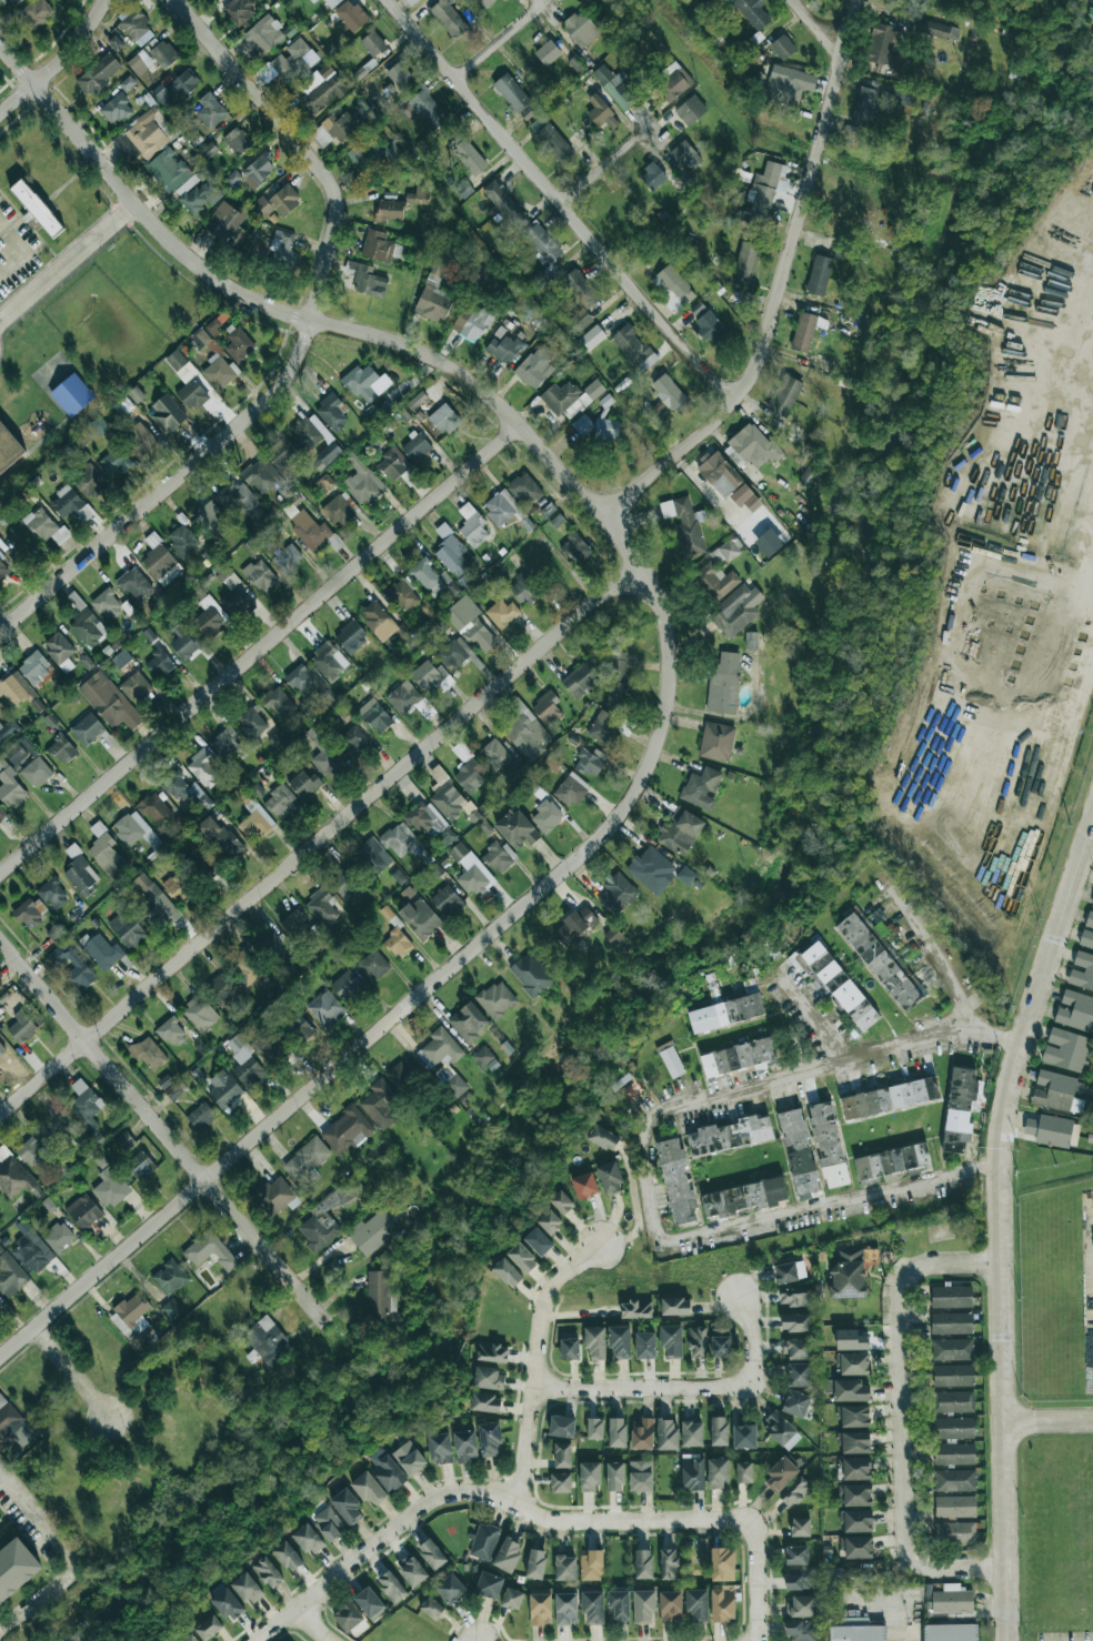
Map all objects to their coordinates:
building: (582, 0)
building: (312, 1)
building: (411, 1)
building: (13, 2)
building: (331, 2)
building: (485, 2)
building: (239, 10)
building: (37, 13)
building: (752, 13)
building: (350, 16)
building: (448, 18)
building: (134, 24)
road: (814, 24)
building: (580, 29)
building: (939, 30)
building: (263, 34)
road: (502, 40)
building: (114, 42)
building: (882, 42)
building: (372, 43)
building: (782, 47)
building: (546, 51)
building: (152, 58)
road: (57, 61)
building: (291, 61)
building: (574, 64)
building: (98, 74)
building: (399, 74)
building: (673, 82)
building: (127, 83)
building: (183, 83)
building: (788, 84)
building: (616, 85)
building: (370, 87)
building: (321, 88)
building: (163, 97)
building: (514, 97)
building: (425, 107)
building: (863, 107)
building: (114, 109)
building: (209, 110)
building: (362, 110)
building: (690, 110)
building: (601, 113)
building: (334, 129)
building: (851, 132)
building: (141, 137)
building: (550, 139)
building: (237, 141)
building: (209, 150)
building: (684, 155)
building: (472, 160)
road: (611, 162)
building: (167, 170)
building: (258, 170)
building: (652, 177)
building: (232, 178)
building: (463, 189)
building: (198, 193)
building: (763, 193)
building: (418, 195)
road: (559, 201)
building: (277, 202)
building: (503, 202)
building: (37, 208)
building: (389, 210)
building: (227, 223)
building: (254, 240)
building: (540, 243)
building: (377, 246)
building: (282, 249)
road: (21, 252)
road: (68, 260)
building: (745, 262)
building: (553, 271)
building: (487, 273)
building: (819, 275)
building: (369, 282)
building: (671, 288)
building: (580, 289)
road: (779, 290)
building: (433, 295)
road: (1079, 298)
building: (217, 322)
building: (472, 322)
building: (706, 322)
road: (367, 332)
building: (803, 332)
building: (590, 339)
building: (238, 344)
building: (503, 346)
building: (633, 348)
road: (299, 349)
building: (176, 361)
building: (534, 368)
building: (219, 373)
building: (367, 383)
building: (670, 393)
building: (192, 394)
building: (71, 395)
building: (136, 395)
building: (784, 395)
building: (570, 396)
building: (415, 401)
building: (122, 405)
building: (331, 412)
building: (166, 413)
building: (403, 414)
road: (1036, 417)
building: (443, 420)
building: (582, 424)
building: (98, 426)
building: (606, 430)
building: (310, 432)
building: (139, 440)
building: (9, 445)
building: (415, 447)
building: (751, 449)
building: (280, 454)
building: (325, 455)
building: (116, 462)
building: (390, 466)
building: (260, 475)
building: (810, 475)
building: (726, 481)
building: (90, 482)
building: (362, 482)
building: (324, 483)
building: (524, 489)
building: (240, 501)
building: (69, 504)
building: (500, 507)
building: (338, 511)
building: (209, 520)
building: (556, 521)
building: (471, 525)
building: (684, 525)
building: (46, 526)
building: (312, 531)
building: (181, 542)
building: (249, 547)
building: (575, 548)
building: (729, 550)
building: (450, 552)
building: (287, 558)
building: (160, 561)
building: (2, 571)
building: (260, 575)
building: (427, 577)
building: (715, 580)
building: (134, 584)
building: (524, 590)
building: (402, 594)
building: (235, 598)
building: (107, 604)
building: (428, 610)
building: (735, 611)
building: (501, 613)
building: (374, 616)
building: (210, 618)
building: (470, 624)
building: (87, 625)
building: (148, 634)
building: (350, 636)
building: (750, 641)
building: (184, 643)
road: (259, 648)
building: (59, 651)
building: (454, 653)
building: (121, 658)
building: (328, 661)
building: (161, 664)
building: (34, 668)
building: (431, 677)
building: (581, 677)
building: (615, 678)
road: (1043, 679)
building: (723, 684)
building: (134, 687)
building: (16, 688)
building: (409, 699)
building: (109, 702)
building: (277, 702)
building: (546, 708)
building: (0, 715)
building: (303, 716)
building: (374, 716)
building: (50, 721)
building: (251, 723)
building: (603, 727)
building: (87, 729)
building: (8, 731)
building: (525, 732)
building: (277, 739)
building: (352, 741)
building: (715, 742)
building: (225, 743)
building: (61, 749)
building: (20, 751)
building: (324, 754)
building: (494, 754)
building: (590, 762)
building: (551, 763)
building: (204, 768)
building: (467, 768)
building: (37, 772)
building: (303, 784)
building: (10, 787)
building: (179, 787)
building: (701, 788)
building: (571, 789)
building: (445, 796)
building: (280, 803)
building: (154, 809)
building: (2, 815)
building: (545, 816)
building: (254, 822)
building: (429, 823)
building: (134, 829)
building: (517, 829)
building: (679, 832)
building: (220, 838)
road: (317, 839)
building: (399, 839)
building: (104, 852)
building: (373, 857)
building: (498, 857)
building: (169, 860)
building: (202, 864)
building: (651, 869)
building: (471, 870)
building: (80, 873)
building: (685, 876)
building: (345, 883)
building: (177, 884)
building: (615, 893)
building: (52, 894)
building: (150, 902)
building: (447, 902)
building: (1092, 904)
building: (321, 906)
building: (29, 913)
building: (420, 918)
building: (294, 925)
building: (574, 926)
building: (126, 928)
building: (1087, 932)
building: (612, 936)
building: (398, 944)
building: (279, 947)
building: (102, 952)
building: (77, 962)
road: (940, 962)
building: (244, 963)
building: (880, 963)
building: (373, 966)
building: (1082, 971)
building: (0, 975)
building: (531, 975)
building: (345, 985)
building: (836, 985)
building: (0, 986)
building: (221, 990)
building: (495, 999)
building: (325, 1008)
building: (1075, 1011)
building: (725, 1013)
building: (200, 1014)
road: (814, 1017)
building: (468, 1021)
building: (21, 1027)
building: (298, 1028)
building: (171, 1033)
road: (367, 1039)
building: (200, 1048)
building: (1065, 1049)
building: (271, 1050)
building: (148, 1054)
building: (2, 1055)
building: (482, 1056)
building: (738, 1057)
building: (670, 1059)
building: (244, 1063)
building: (445, 1063)
building: (403, 1073)
building: (164, 1081)
building: (625, 1088)
building: (223, 1089)
building: (1057, 1091)
building: (889, 1098)
building: (84, 1104)
building: (381, 1106)
building: (961, 1108)
building: (201, 1117)
building: (347, 1130)
building: (1053, 1130)
road: (161, 1131)
building: (730, 1135)
building: (602, 1138)
building: (124, 1140)
building: (828, 1145)
building: (798, 1151)
building: (30, 1154)
road: (642, 1158)
building: (305, 1159)
building: (890, 1162)
building: (141, 1166)
building: (610, 1177)
building: (676, 1181)
building: (584, 1186)
building: (110, 1187)
building: (278, 1195)
building: (743, 1198)
building: (561, 1202)
building: (48, 1205)
building: (83, 1211)
building: (327, 1217)
building: (549, 1221)
road: (1000, 1226)
building: (373, 1230)
building: (57, 1237)
building: (538, 1241)
building: (209, 1251)
building: (31, 1254)
building: (521, 1258)
building: (790, 1271)
building: (850, 1271)
building: (507, 1272)
building: (10, 1276)
building: (169, 1278)
building: (794, 1297)
building: (951, 1297)
building: (381, 1301)
building: (674, 1306)
building: (635, 1309)
building: (171, 1310)
building: (133, 1321)
building: (794, 1322)
building: (951, 1323)
road: (752, 1338)
building: (671, 1340)
building: (267, 1341)
building: (620, 1341)
building: (594, 1342)
building: (696, 1342)
building: (720, 1342)
building: (644, 1346)
building: (796, 1348)
building: (569, 1349)
building: (952, 1349)
building: (491, 1352)
road: (901, 1356)
road: (539, 1362)
building: (853, 1363)
road: (76, 1372)
building: (798, 1375)
building: (953, 1376)
building: (488, 1378)
road: (642, 1387)
building: (848, 1390)
building: (952, 1401)
building: (485, 1402)
building: (795, 1403)
building: (853, 1417)
road: (1049, 1419)
building: (12, 1426)
building: (561, 1427)
building: (952, 1428)
building: (594, 1429)
building: (719, 1431)
building: (781, 1431)
building: (616, 1432)
building: (641, 1433)
building: (691, 1433)
building: (666, 1434)
building: (744, 1437)
building: (489, 1440)
building: (854, 1442)
building: (465, 1446)
building: (440, 1449)
building: (954, 1453)
building: (562, 1456)
building: (409, 1458)
building: (385, 1469)
building: (853, 1469)
building: (692, 1472)
building: (743, 1472)
building: (716, 1473)
building: (640, 1476)
building: (780, 1476)
building: (589, 1477)
building: (614, 1477)
building: (954, 1480)
building: (560, 1483)
building: (368, 1488)
building: (794, 1492)
building: (854, 1494)
building: (345, 1506)
building: (954, 1507)
building: (0, 1520)
road: (632, 1520)
building: (855, 1521)
building: (328, 1522)
building: (800, 1527)
building: (954, 1532)
building: (307, 1539)
building: (484, 1541)
road: (381, 1542)
building: (856, 1547)
building: (431, 1554)
building: (507, 1554)
building: (288, 1556)
building: (795, 1556)
building: (535, 1563)
building: (643, 1564)
building: (669, 1564)
building: (722, 1564)
road: (947, 1564)
road: (69, 1566)
building: (591, 1566)
building: (16, 1568)
building: (564, 1568)
building: (411, 1571)
building: (268, 1572)
building: (800, 1579)
road: (755, 1582)
building: (488, 1585)
building: (391, 1587)
building: (247, 1589)
building: (450, 1589)
building: (511, 1599)
building: (951, 1600)
building: (370, 1603)
building: (228, 1604)
building: (722, 1604)
building: (643, 1605)
building: (696, 1605)
building: (801, 1605)
building: (592, 1607)
building: (619, 1607)
building: (670, 1607)
building: (431, 1608)
building: (540, 1609)
building: (565, 1609)
building: (347, 1617)
road: (311, 1625)
building: (208, 1628)
building: (801, 1631)
building: (858, 1631)
building: (950, 1632)

